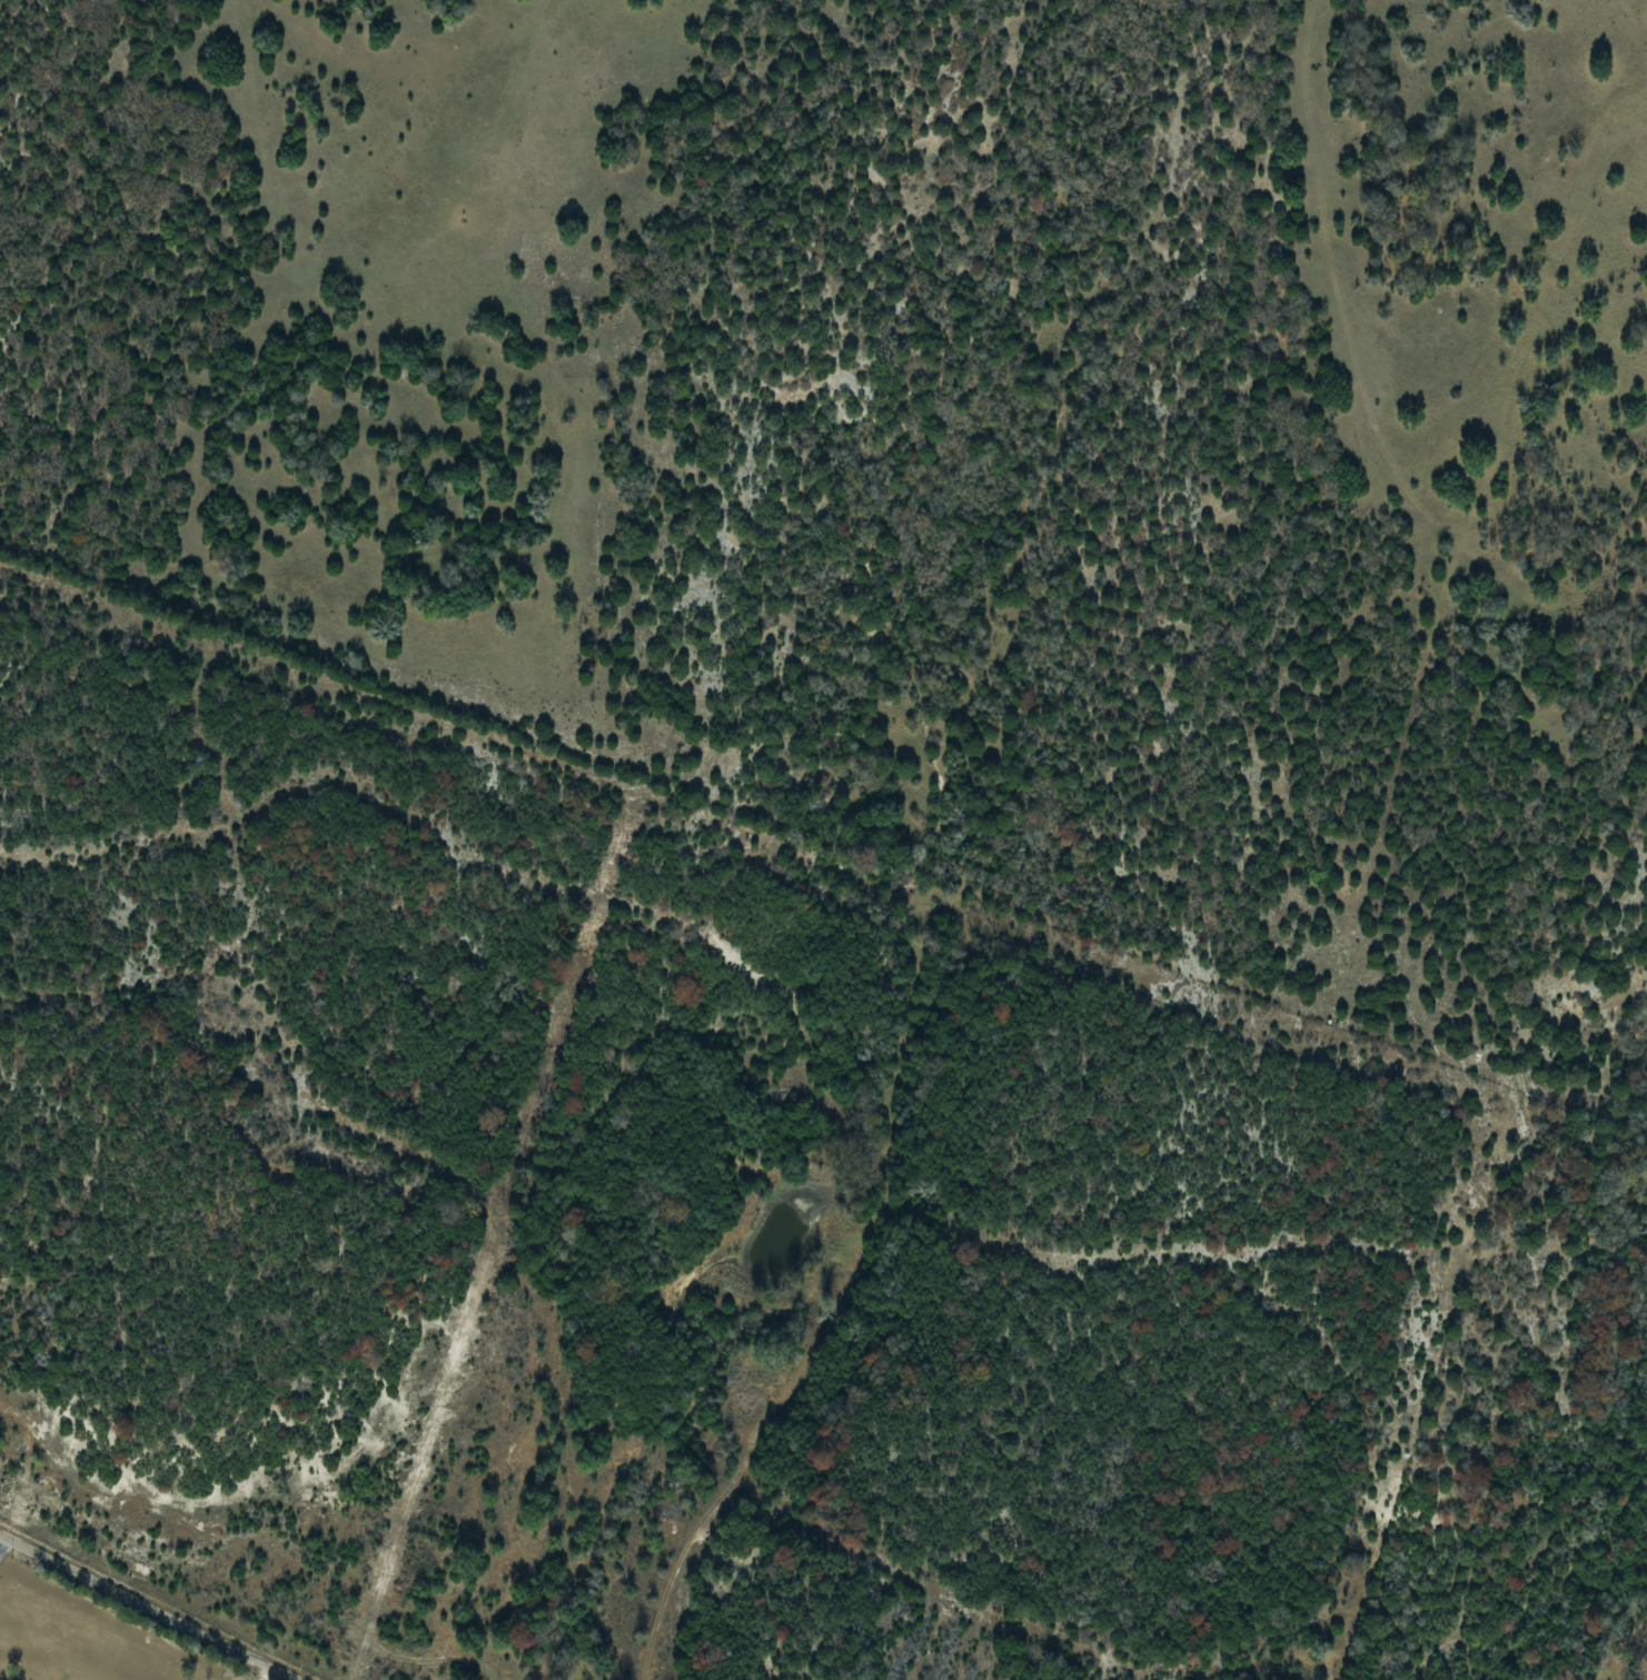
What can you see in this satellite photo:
road: (158, 1607)

